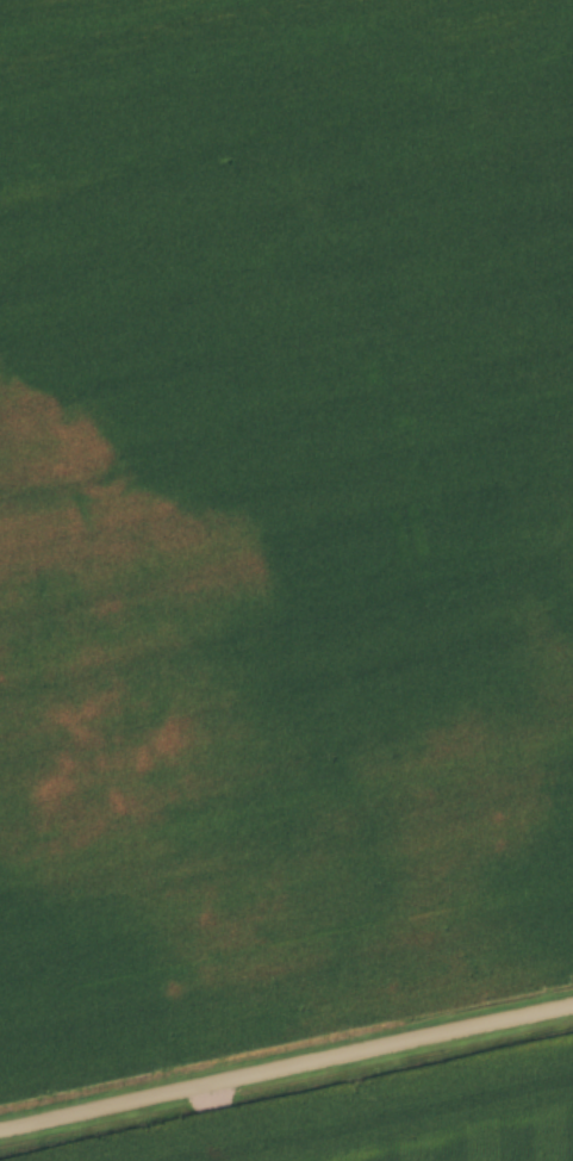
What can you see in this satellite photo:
road: (286, 1072)

